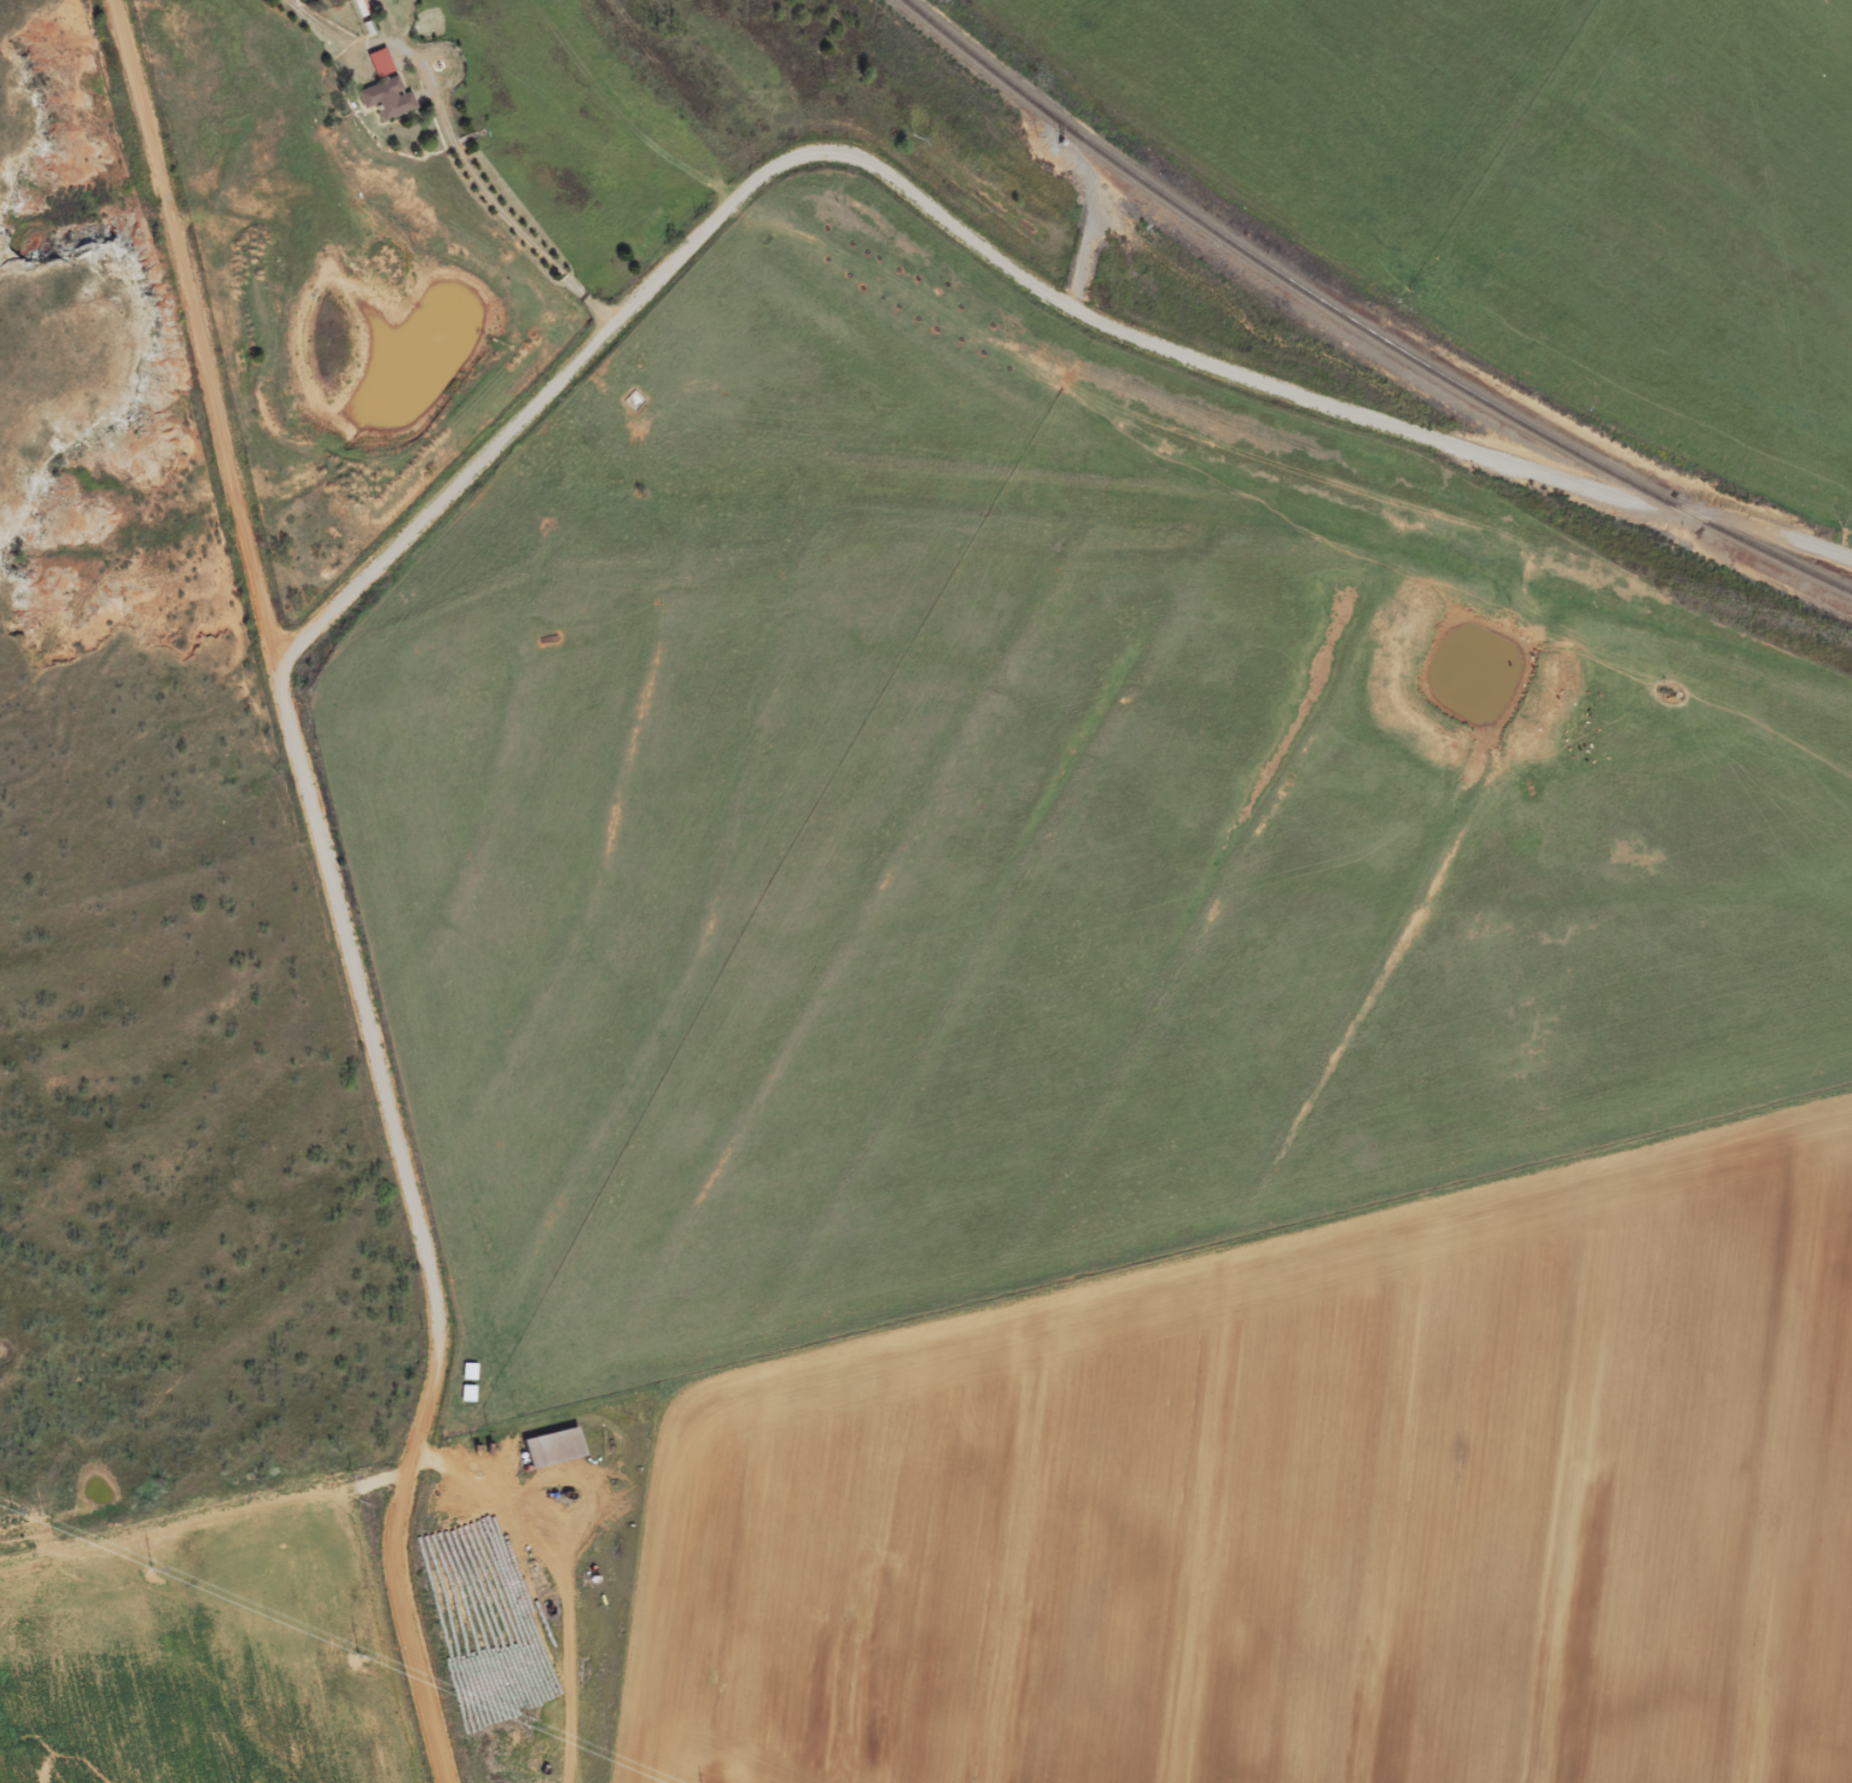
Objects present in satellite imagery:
building: (384, 89)
road: (977, 240)
railway: (1358, 326)
road: (336, 890)
building: (467, 1374)
building: (549, 1450)

